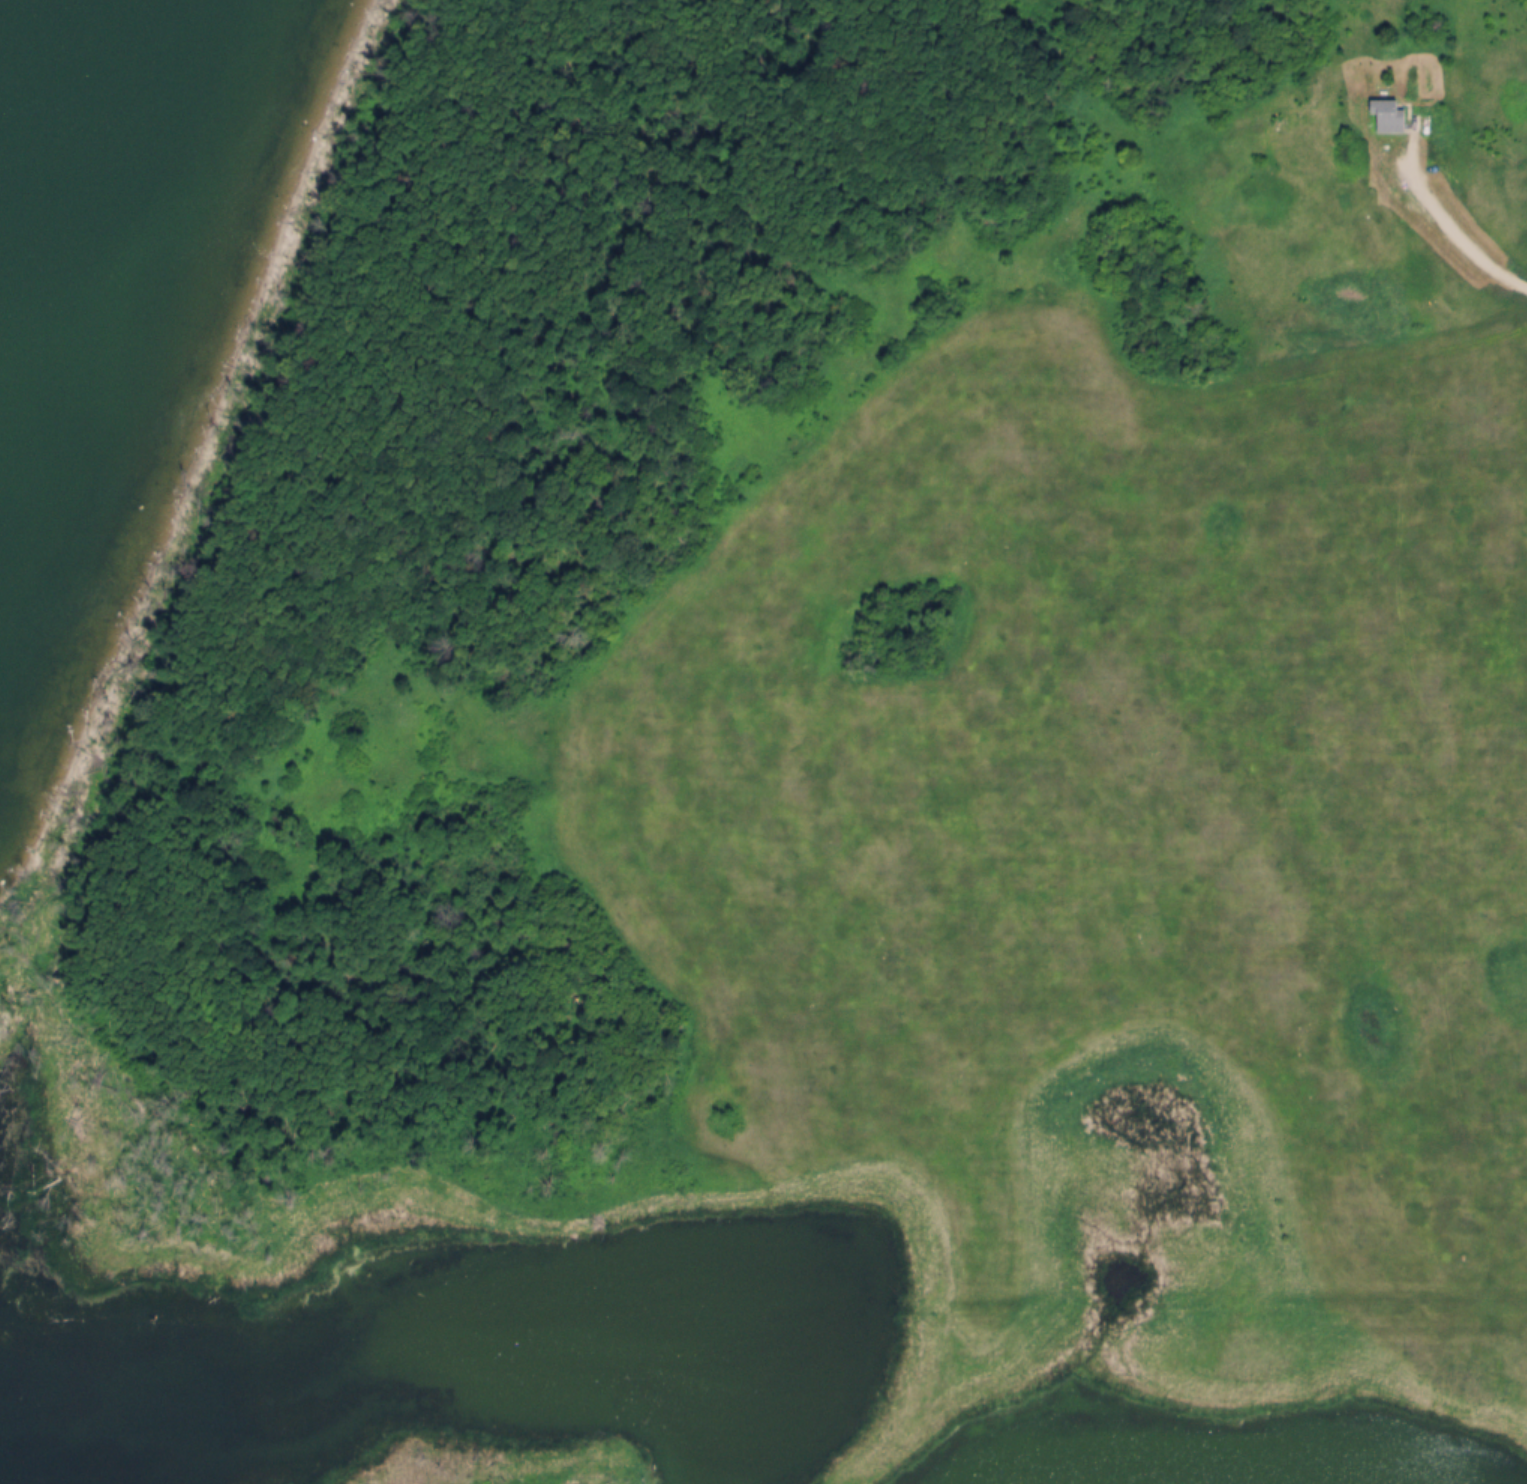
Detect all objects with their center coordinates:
building: (1378, 108)
road: (1449, 228)

